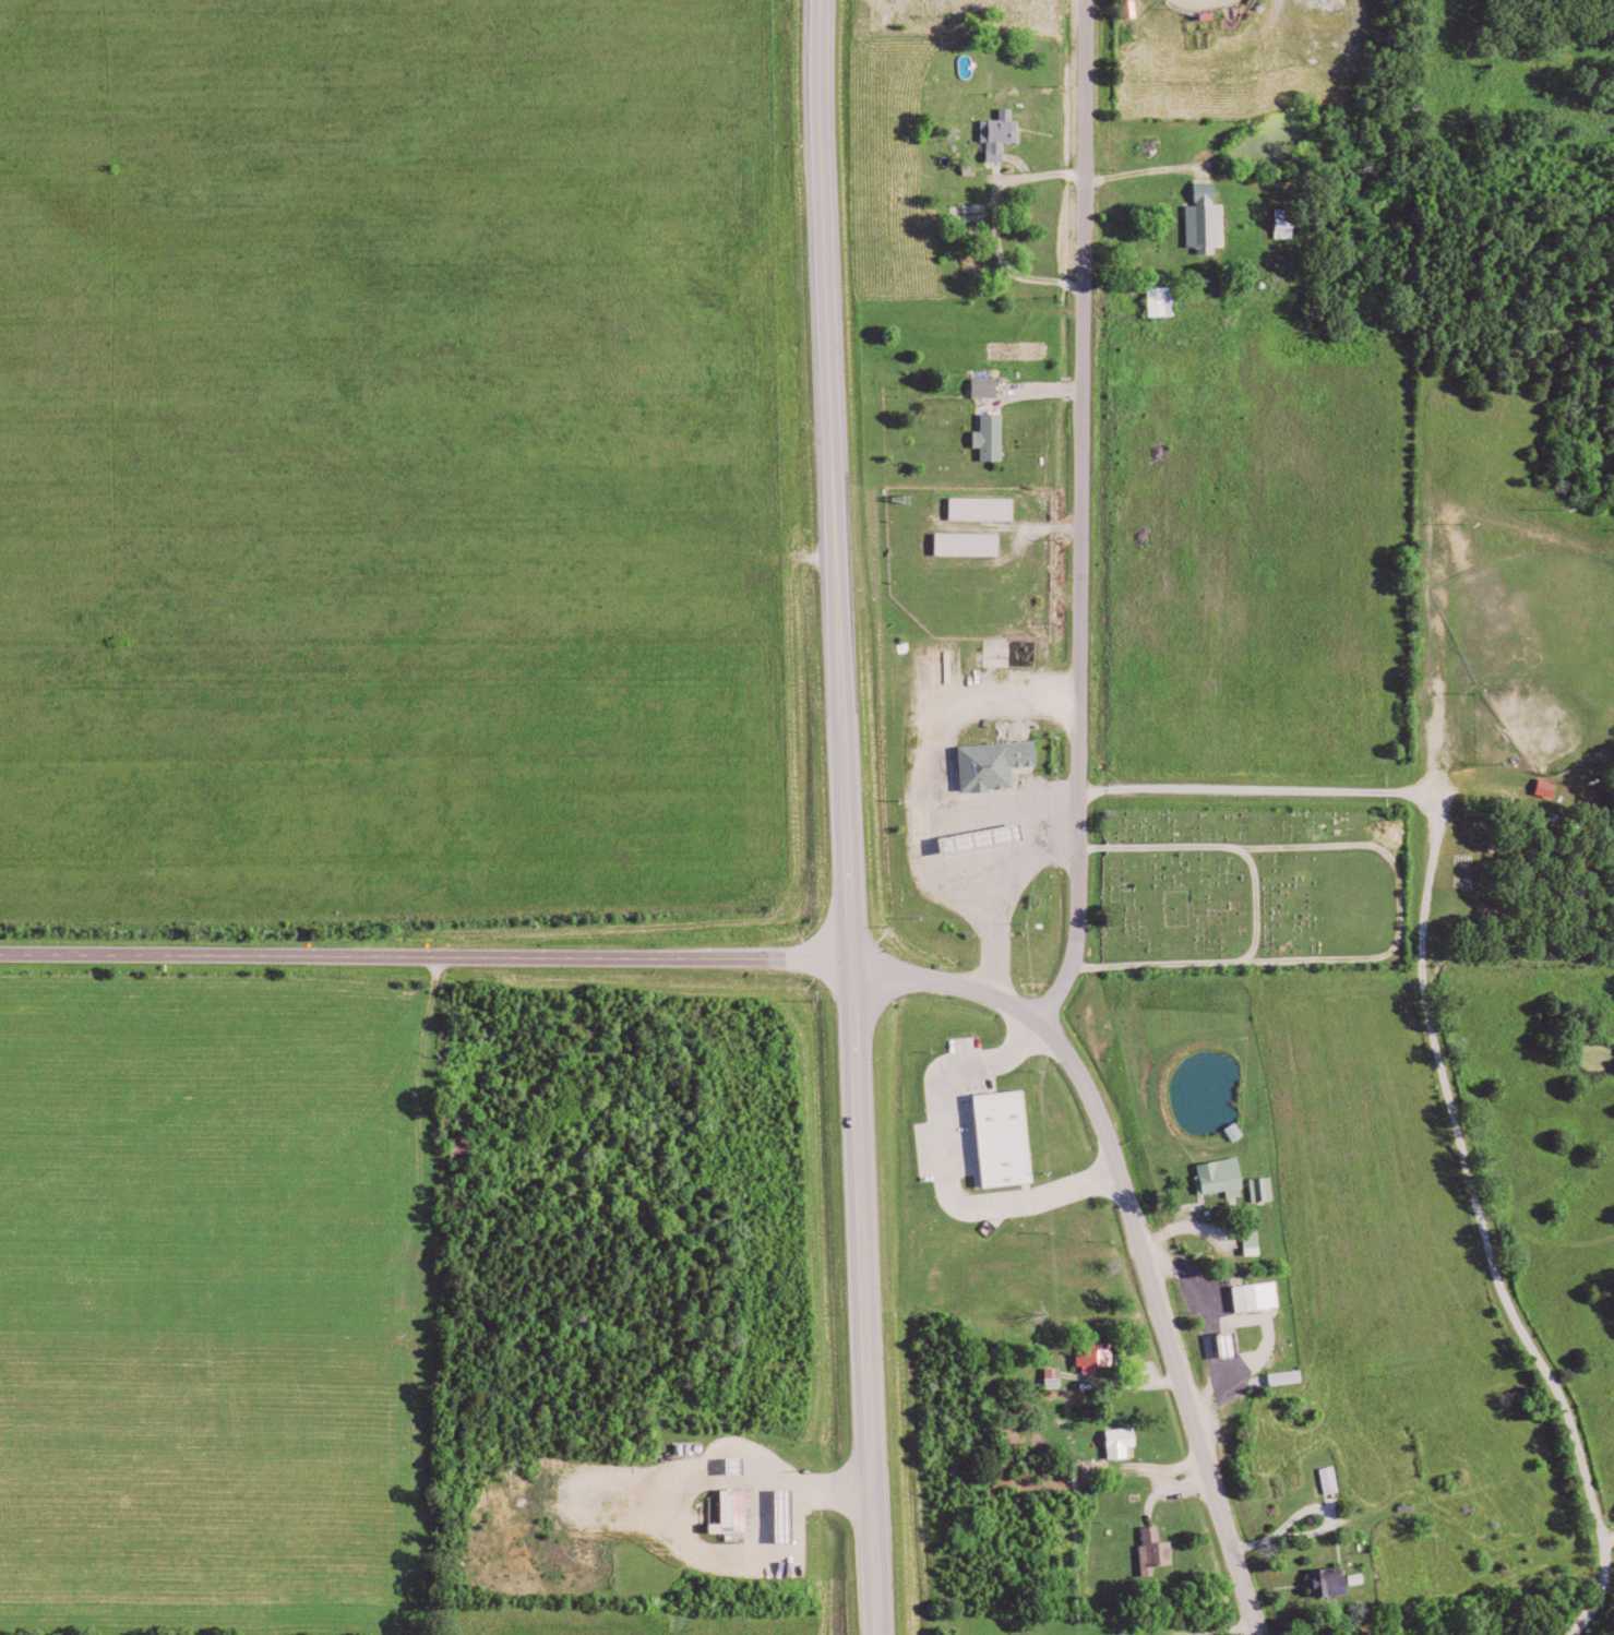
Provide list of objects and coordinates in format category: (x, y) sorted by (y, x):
road: (1223, 72)
road: (1211, 159)
road: (1129, 178)
building: (1210, 220)
road: (1013, 278)
building: (1167, 301)
road: (1021, 349)
building: (995, 437)
building: (987, 506)
road: (1083, 518)
building: (972, 544)
building: (999, 763)
building: (1552, 786)
road: (845, 816)
park: (1254, 888)
road: (427, 958)
road: (951, 981)
road: (1438, 1062)
building: (1009, 1137)
building: (1224, 1174)
building: (1266, 1189)
road: (1545, 1243)
road: (1138, 1248)
building: (1260, 1296)
road: (1161, 1323)
building: (1101, 1358)
building: (1290, 1377)
building: (1126, 1442)
building: (1334, 1479)
building: (737, 1512)
building: (789, 1515)
road: (1295, 1536)
building: (1160, 1549)
building: (1334, 1582)
road: (1244, 1633)

